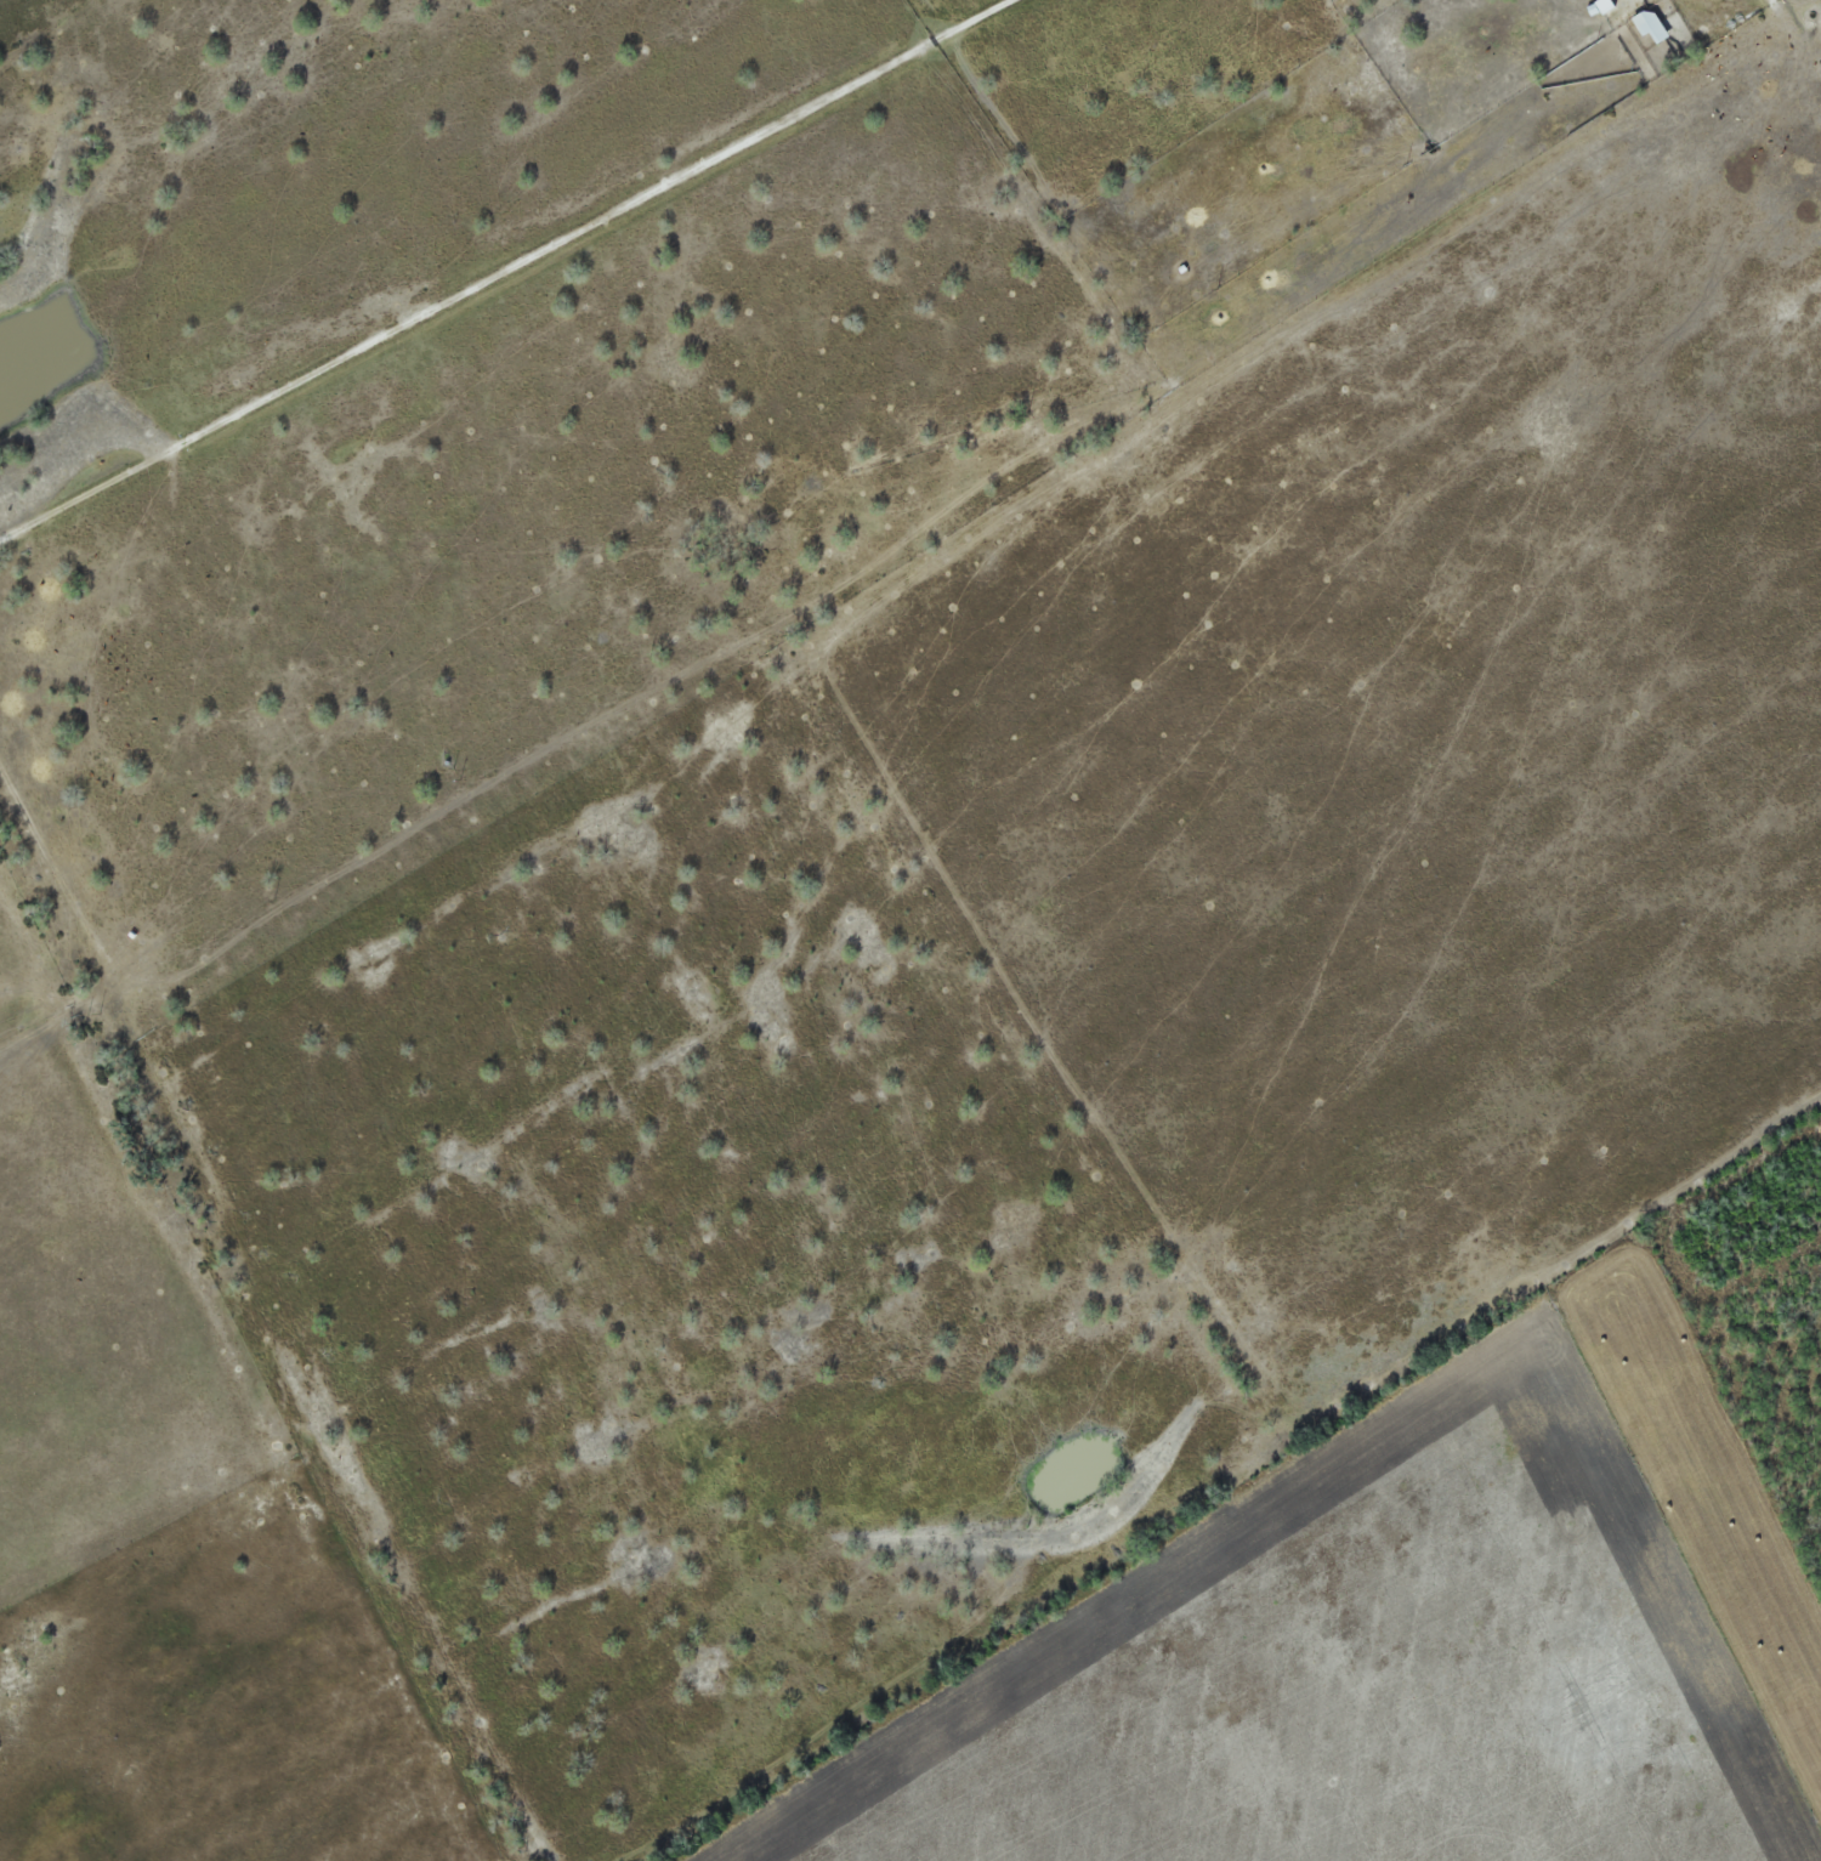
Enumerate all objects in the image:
road: (1772, 2)
building: (1646, 24)
road: (503, 268)

